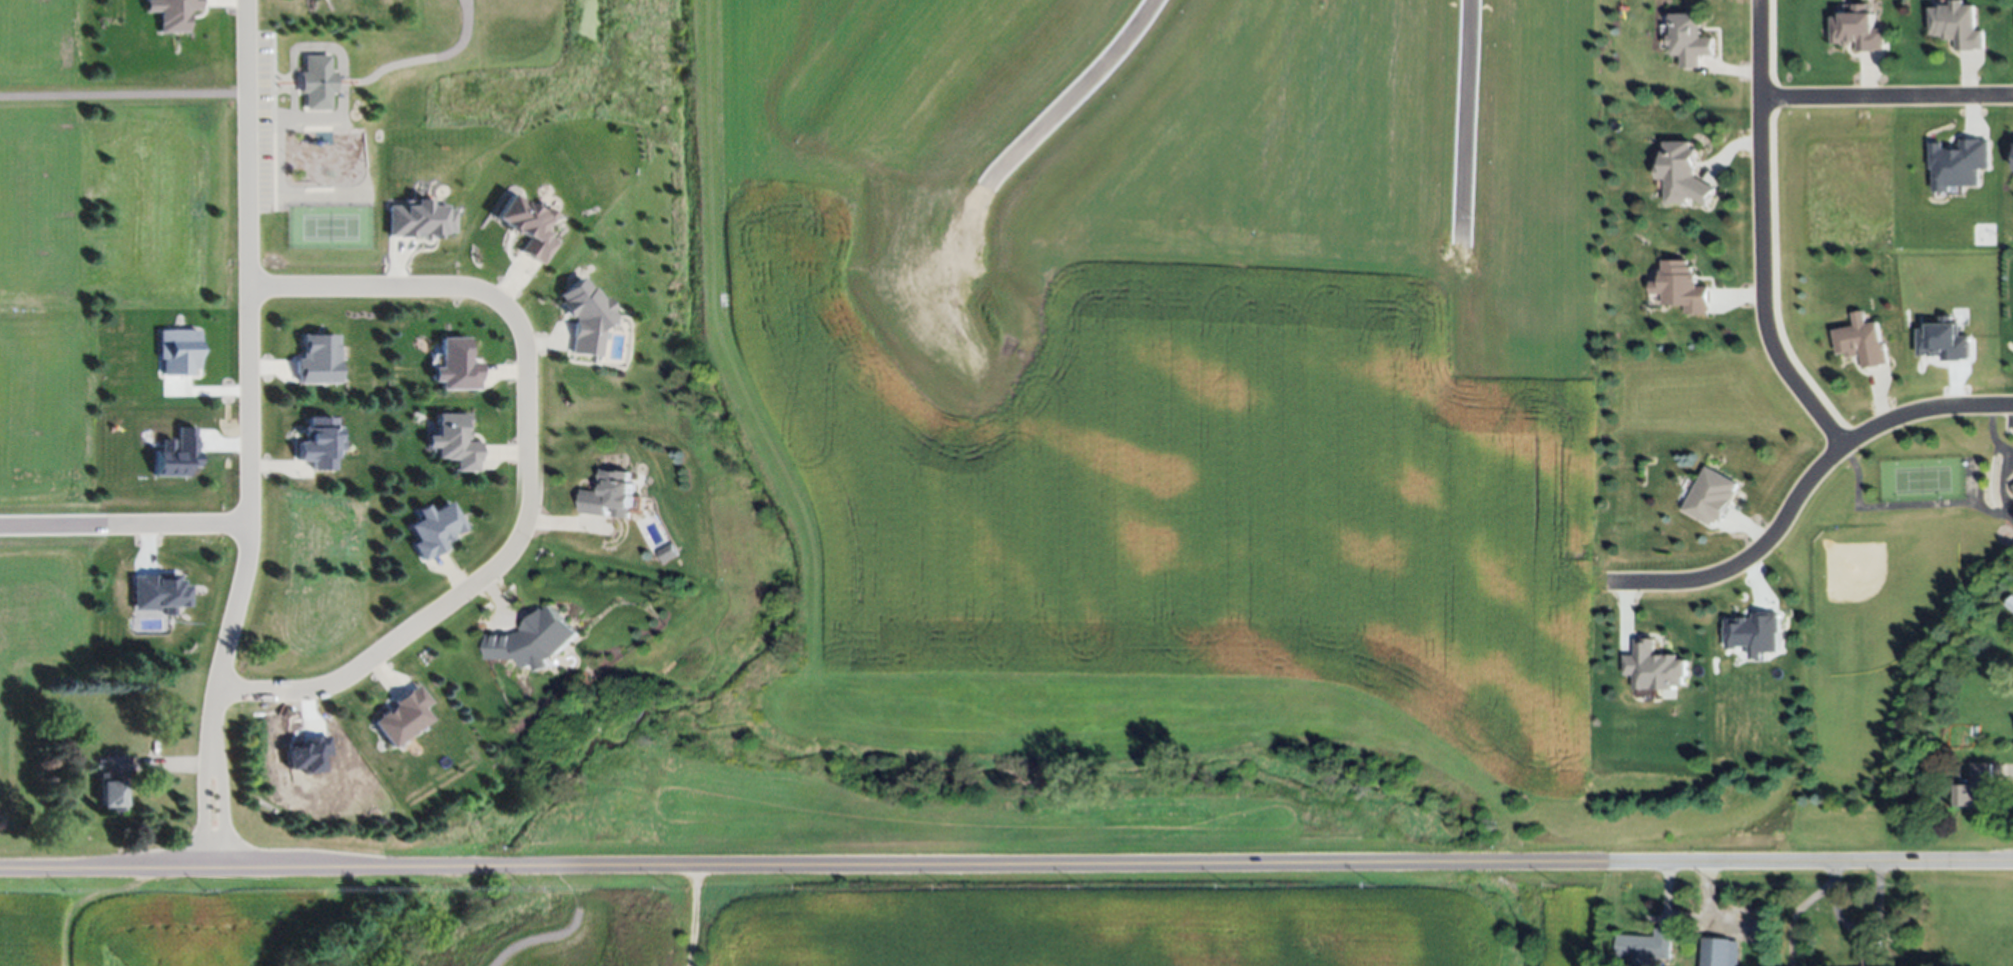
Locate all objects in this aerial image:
building: (173, 13)
building: (1957, 24)
building: (1855, 26)
building: (1690, 38)
building: (318, 80)
road: (1079, 84)
road: (124, 94)
road: (1886, 96)
road: (1460, 117)
building: (1957, 165)
building: (1685, 173)
building: (419, 220)
building: (528, 227)
road: (1760, 235)
building: (1684, 286)
building: (587, 317)
building: (1861, 340)
building: (1943, 343)
building: (178, 353)
building: (318, 360)
building: (458, 366)
road: (249, 375)
building: (456, 442)
building: (321, 443)
building: (178, 454)
road: (525, 471)
road: (1801, 487)
building: (2012, 487)
building: (2012, 488)
building: (610, 494)
building: (1712, 498)
road: (125, 521)
building: (436, 530)
building: (665, 554)
building: (158, 594)
building: (2011, 605)
park: (1889, 607)
building: (1754, 635)
building: (532, 641)
building: (1655, 668)
building: (403, 718)
road: (2009, 766)
building: (113, 780)
building: (1976, 786)
road: (203, 806)
road: (223, 807)
road: (1006, 866)
road: (89, 900)
crop: (154, 925)
road: (1851, 927)
road: (520, 939)
building: (1646, 946)
building: (1720, 952)
building: (1874, 959)

